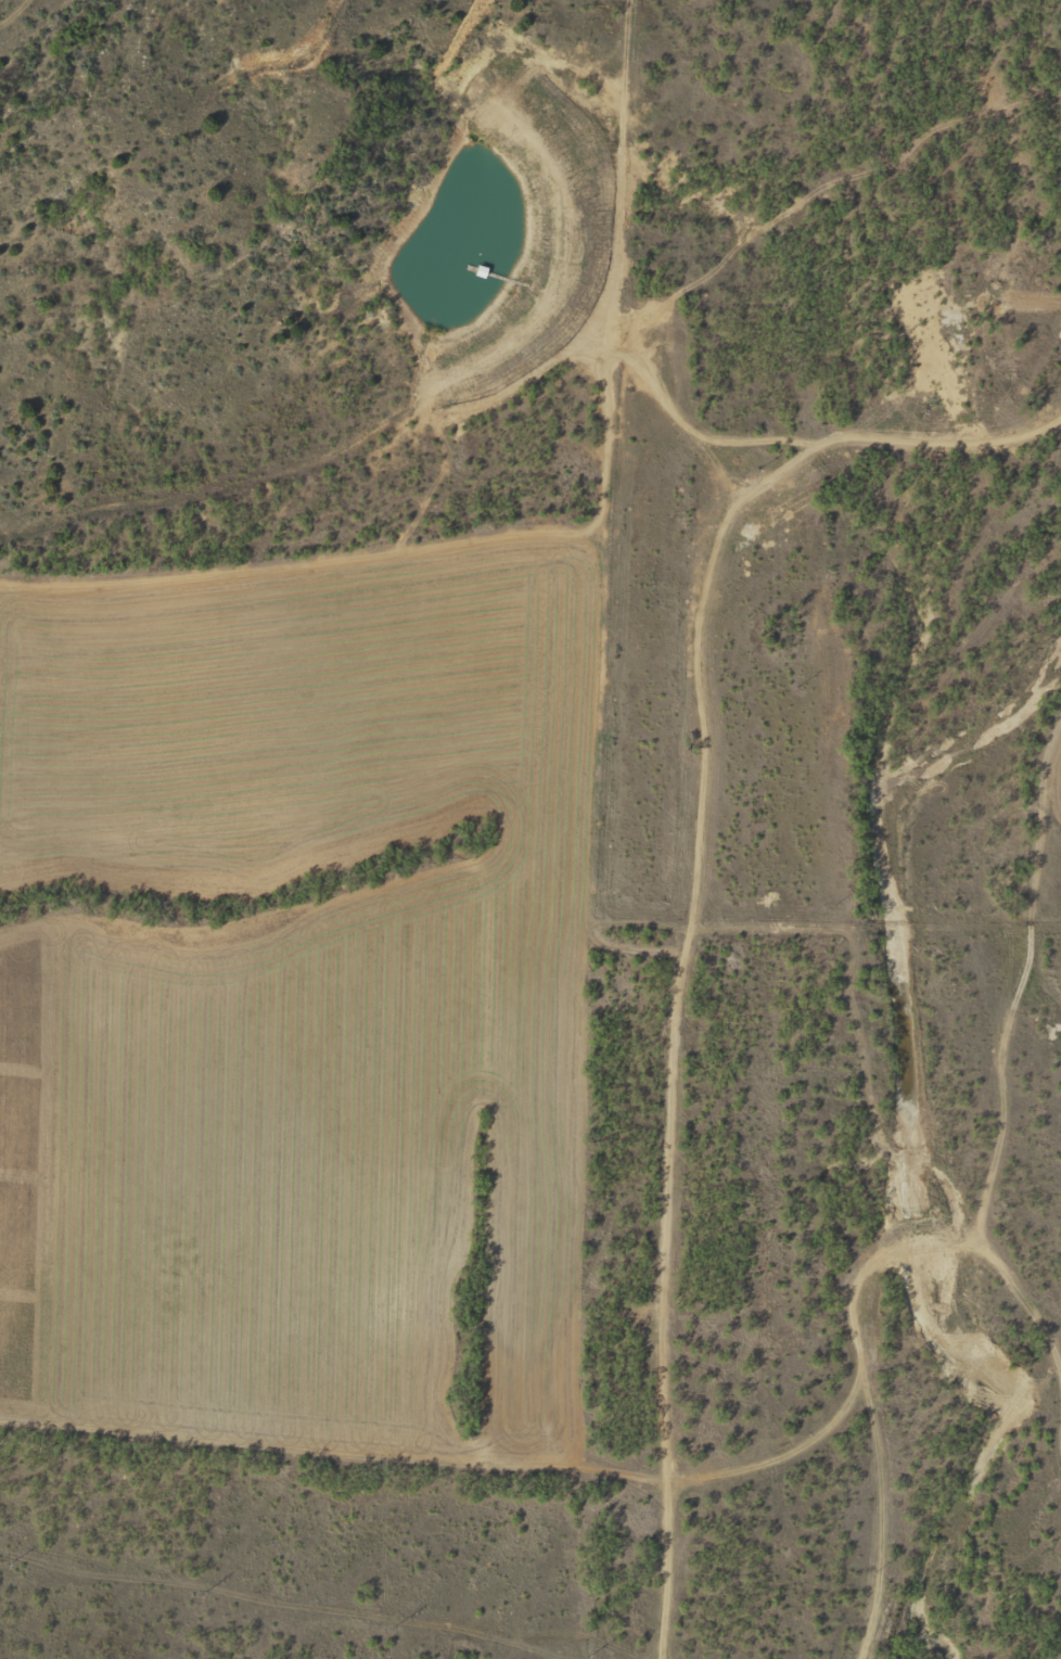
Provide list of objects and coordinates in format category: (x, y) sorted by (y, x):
road: (685, 1089)

